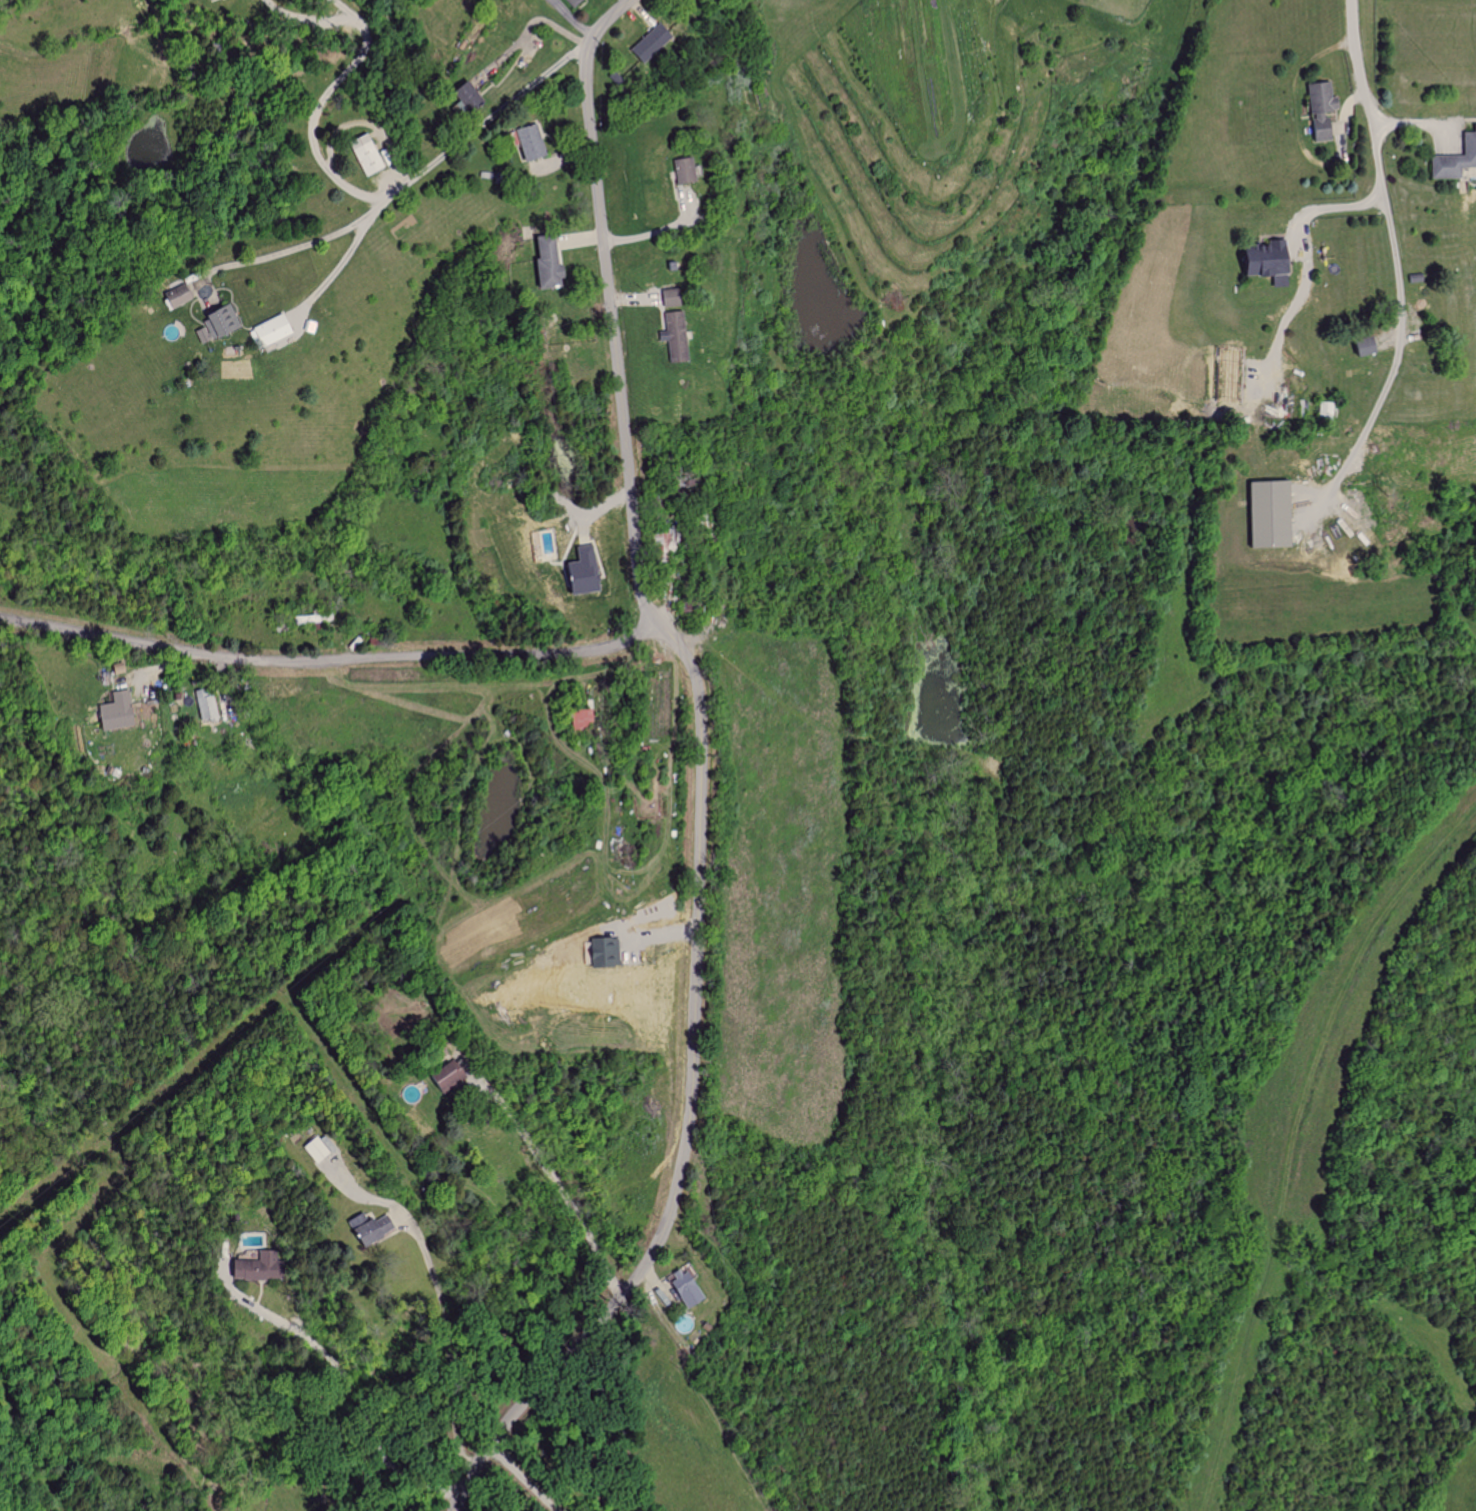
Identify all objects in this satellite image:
building: (216, 0)
building: (580, 2)
road: (349, 11)
road: (312, 20)
road: (533, 21)
building: (658, 44)
road: (1352, 51)
building: (476, 98)
road: (1296, 109)
building: (1317, 109)
road: (309, 124)
building: (537, 143)
building: (371, 155)
building: (1454, 156)
building: (681, 170)
road: (404, 185)
road: (1327, 206)
road: (656, 231)
building: (543, 261)
building: (1258, 261)
road: (335, 266)
building: (181, 295)
building: (666, 297)
road: (1401, 321)
building: (216, 327)
building: (277, 329)
building: (674, 336)
building: (1357, 345)
building: (1324, 410)
building: (1264, 513)
building: (575, 571)
road: (327, 662)
building: (211, 703)
building: (120, 711)
road: (699, 773)
building: (599, 952)
building: (450, 1076)
building: (319, 1150)
road: (558, 1183)
building: (374, 1228)
building: (255, 1267)
road: (448, 1342)
road: (350, 1381)
road: (525, 1478)

